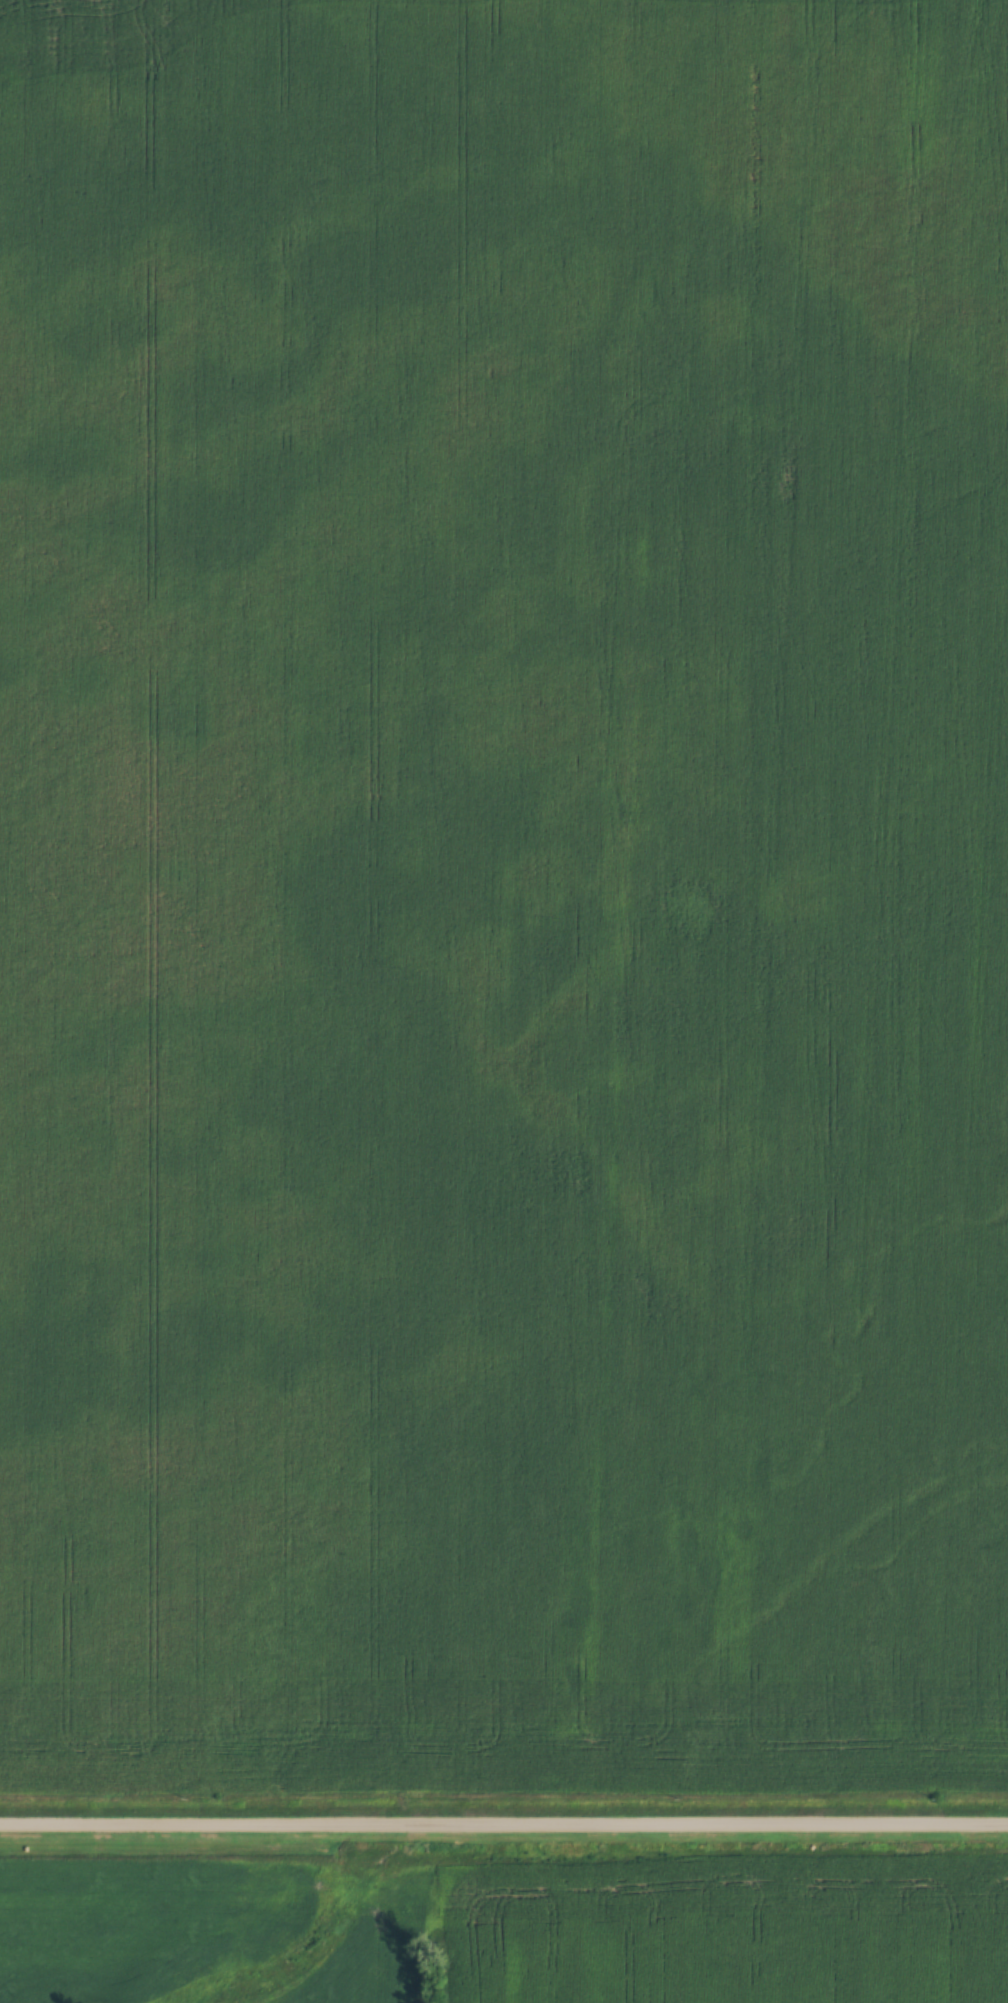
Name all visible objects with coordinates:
road: (504, 1820)

